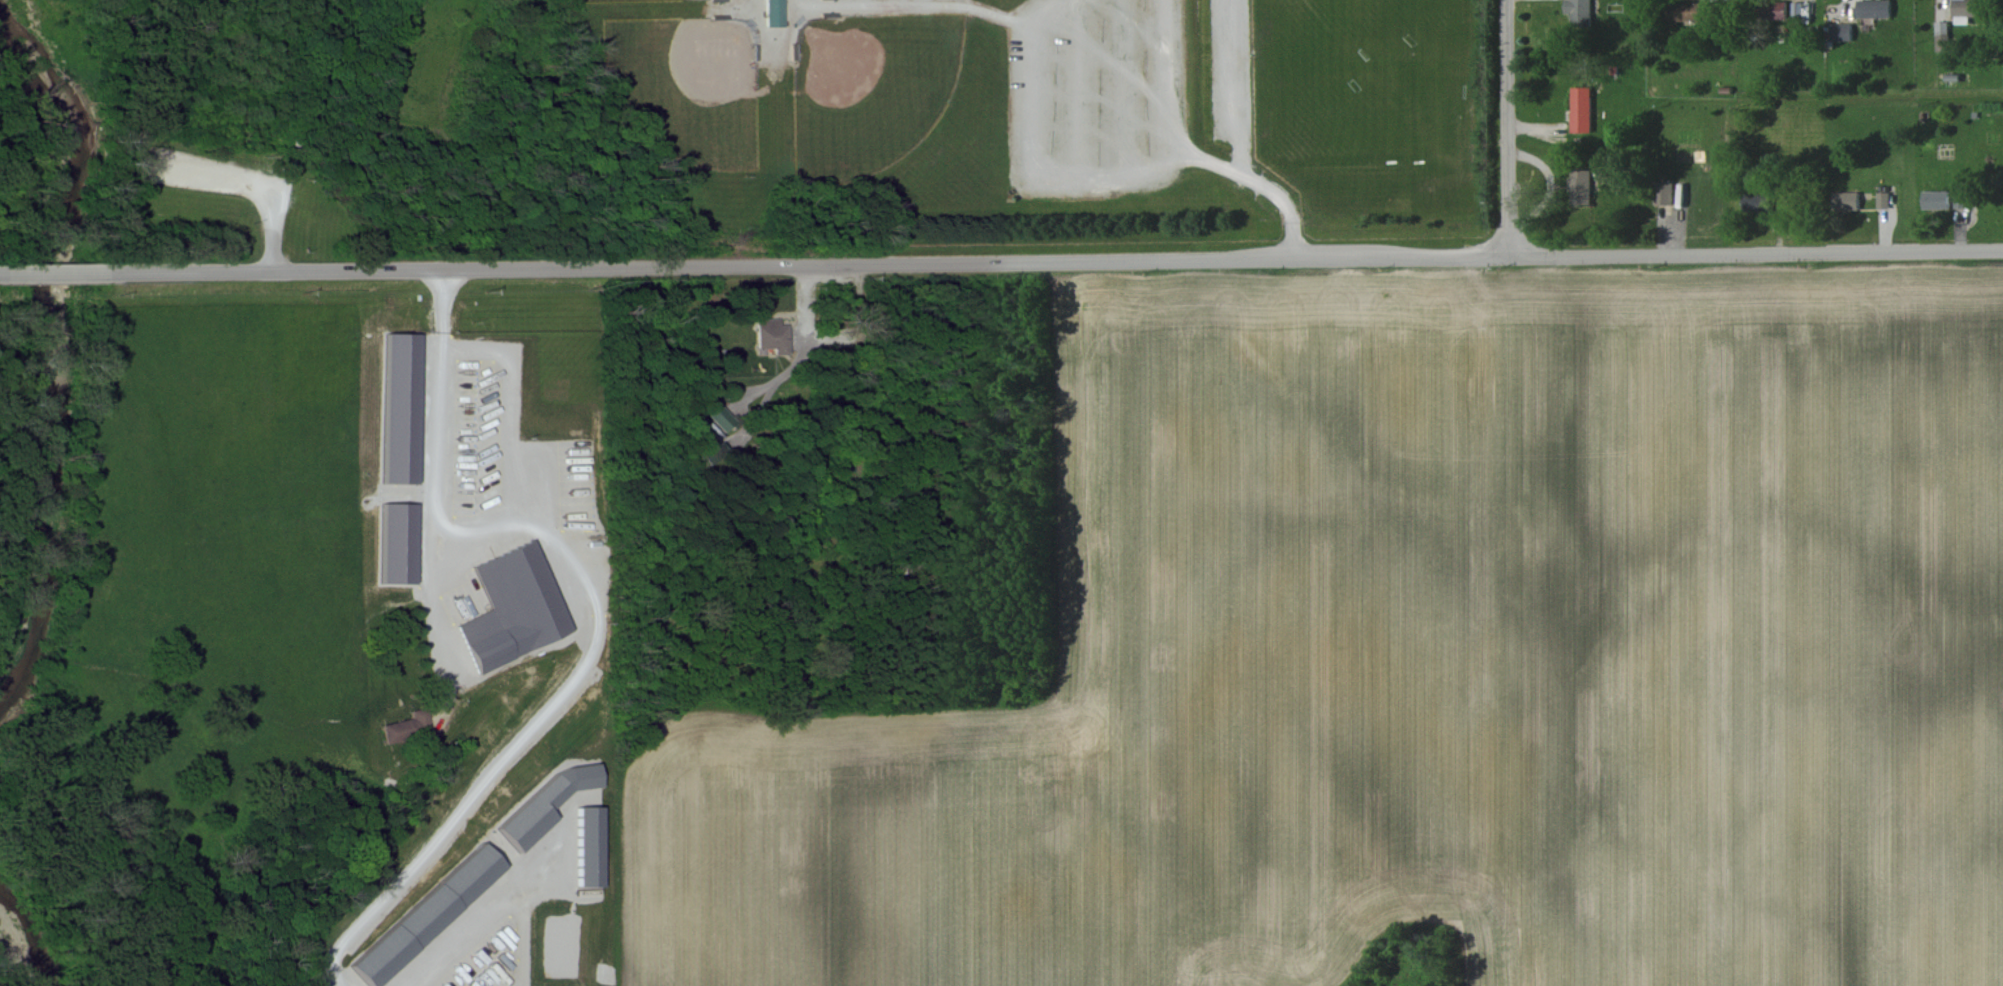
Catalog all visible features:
building: (1875, 8)
building: (1967, 8)
building: (1773, 10)
building: (1797, 10)
building: (1579, 12)
building: (1684, 12)
building: (773, 13)
building: (1842, 32)
building: (1581, 109)
road: (1507, 129)
road: (307, 135)
road: (1032, 153)
building: (1580, 187)
building: (1664, 193)
building: (1935, 199)
building: (1960, 199)
building: (1846, 200)
building: (1883, 200)
building: (1756, 202)
road: (1063, 263)
road: (62, 274)
building: (769, 334)
building: (399, 409)
road: (915, 415)
building: (719, 417)
road: (436, 467)
road: (482, 524)
building: (396, 543)
building: (512, 608)
road: (585, 673)
building: (406, 727)
building: (544, 804)
building: (426, 916)

